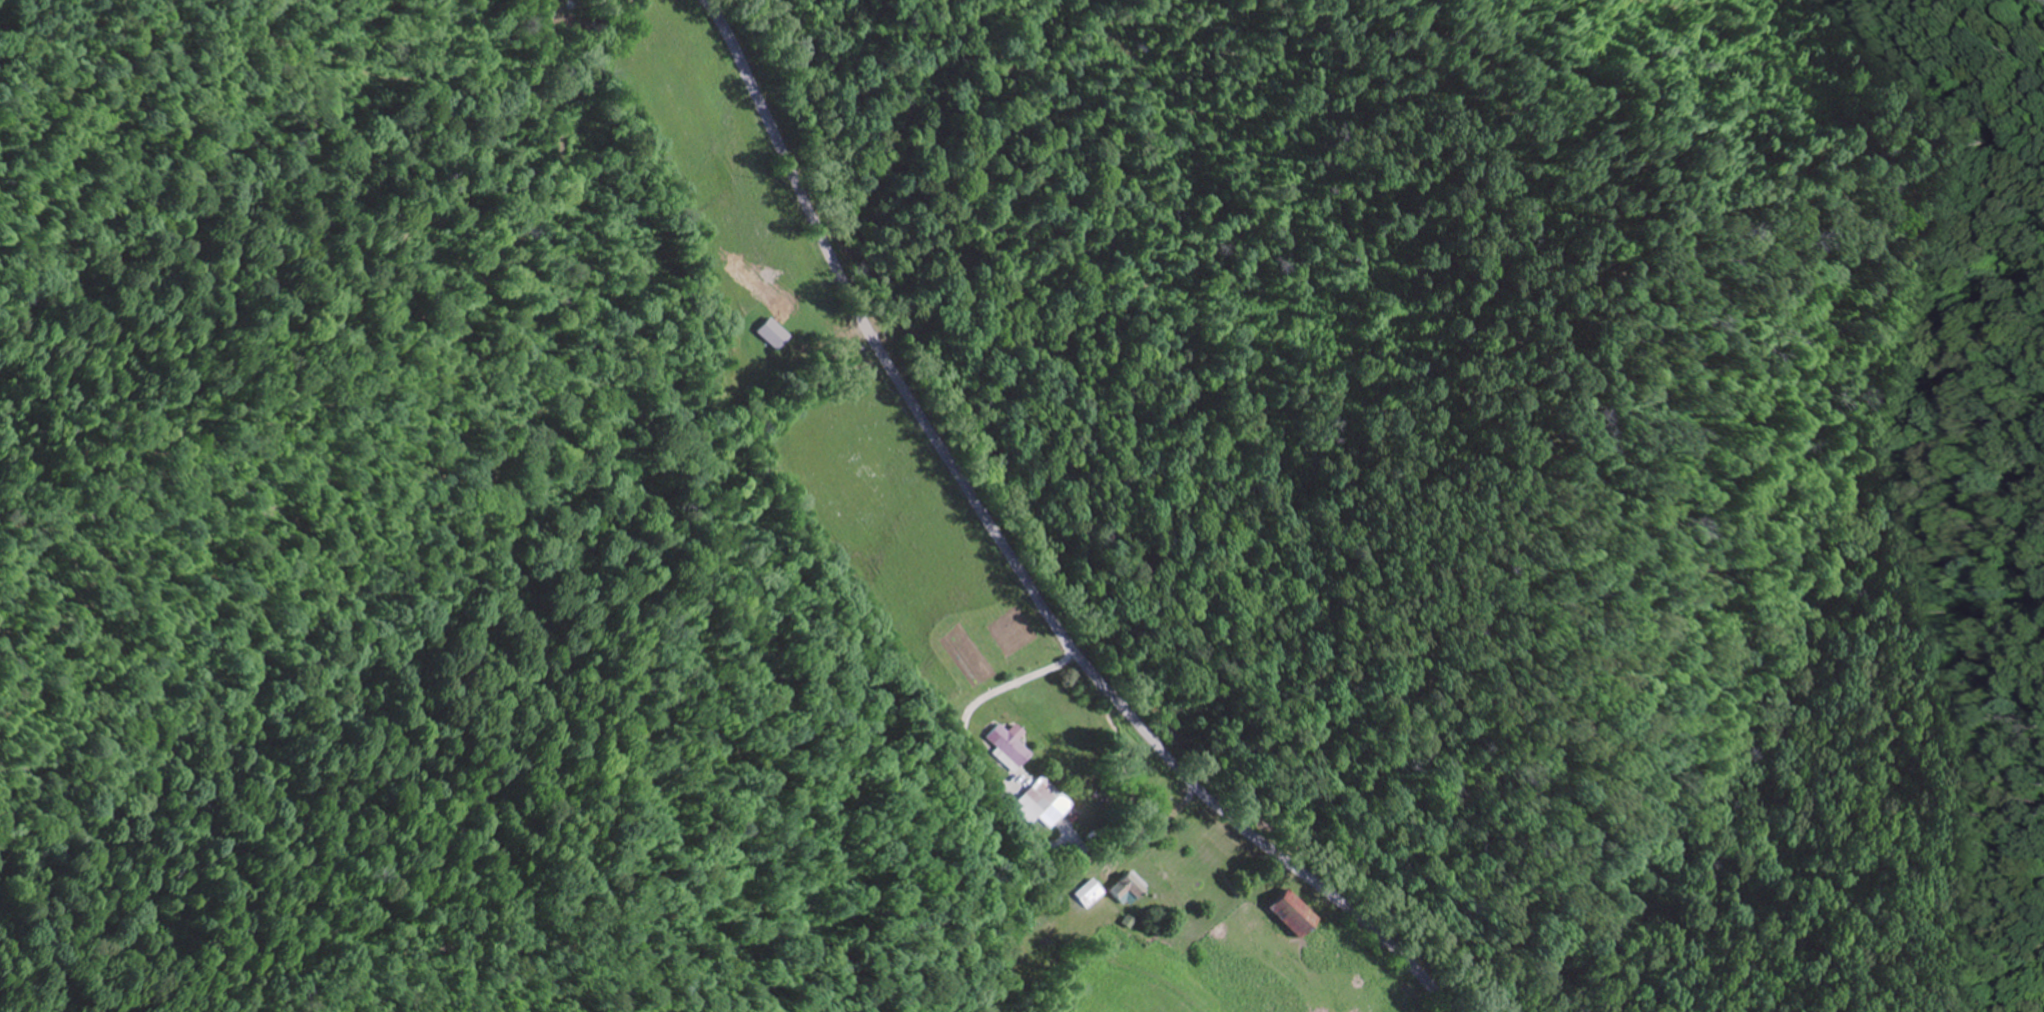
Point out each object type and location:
road: (1009, 557)
building: (1006, 746)
building: (1035, 799)
building: (1124, 889)
building: (1086, 894)
building: (1288, 914)

